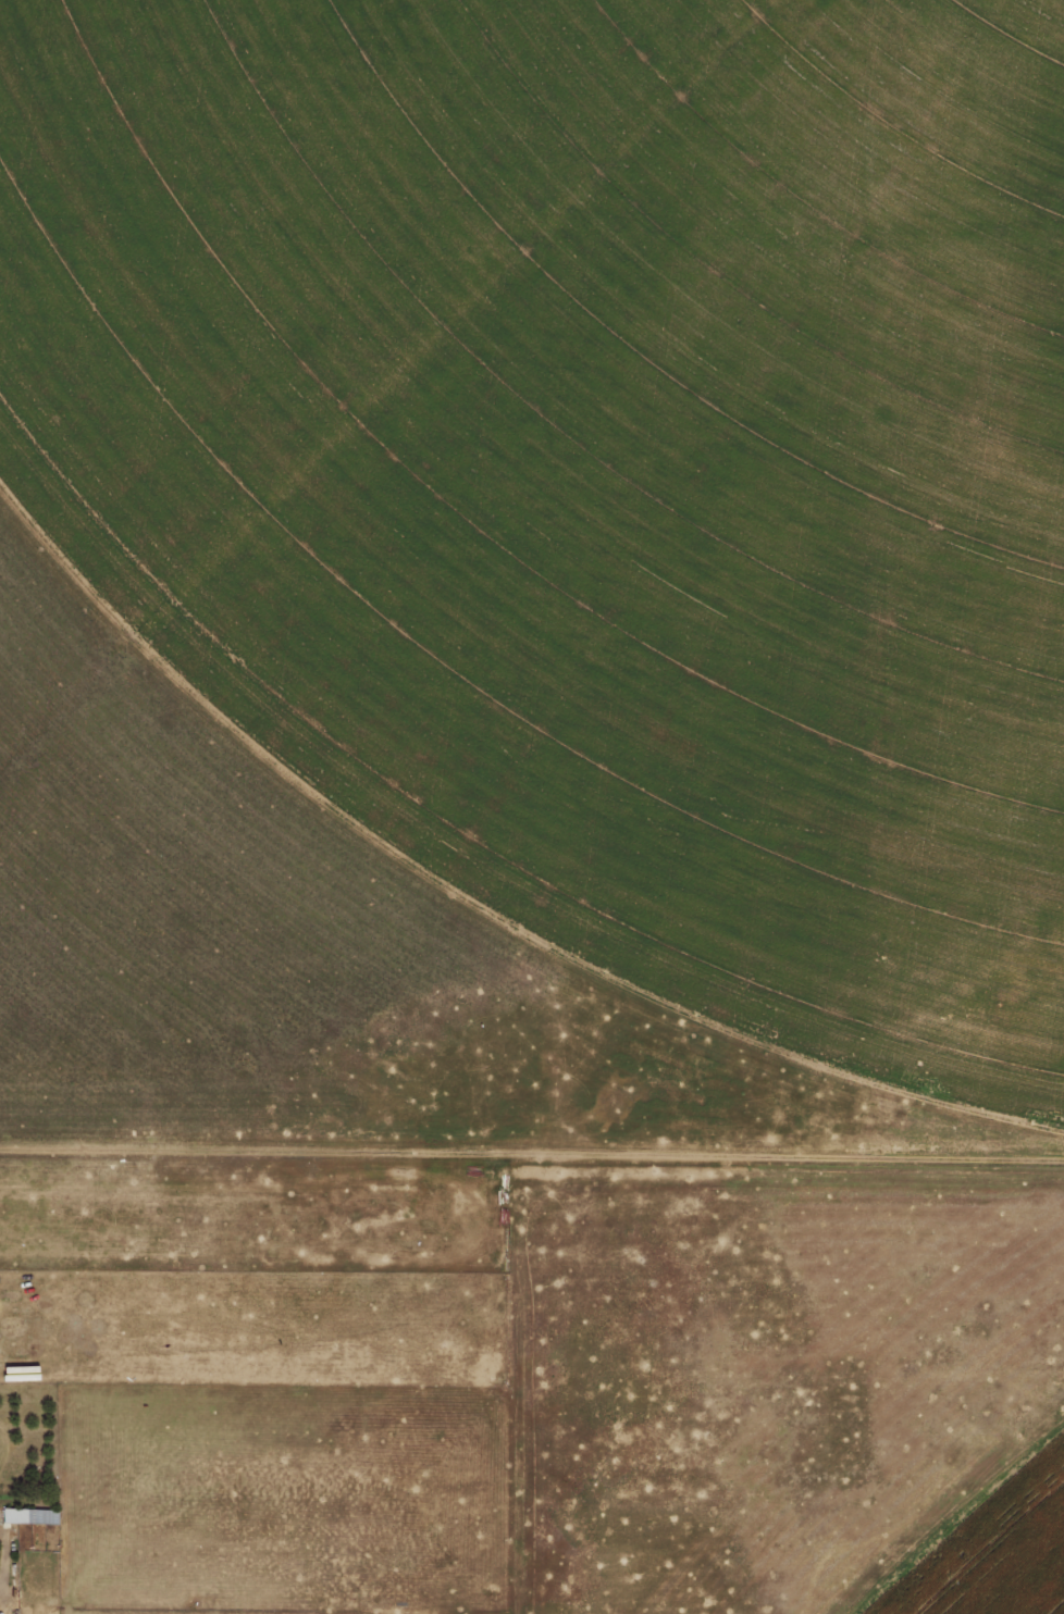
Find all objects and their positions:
building: (29, 1515)

